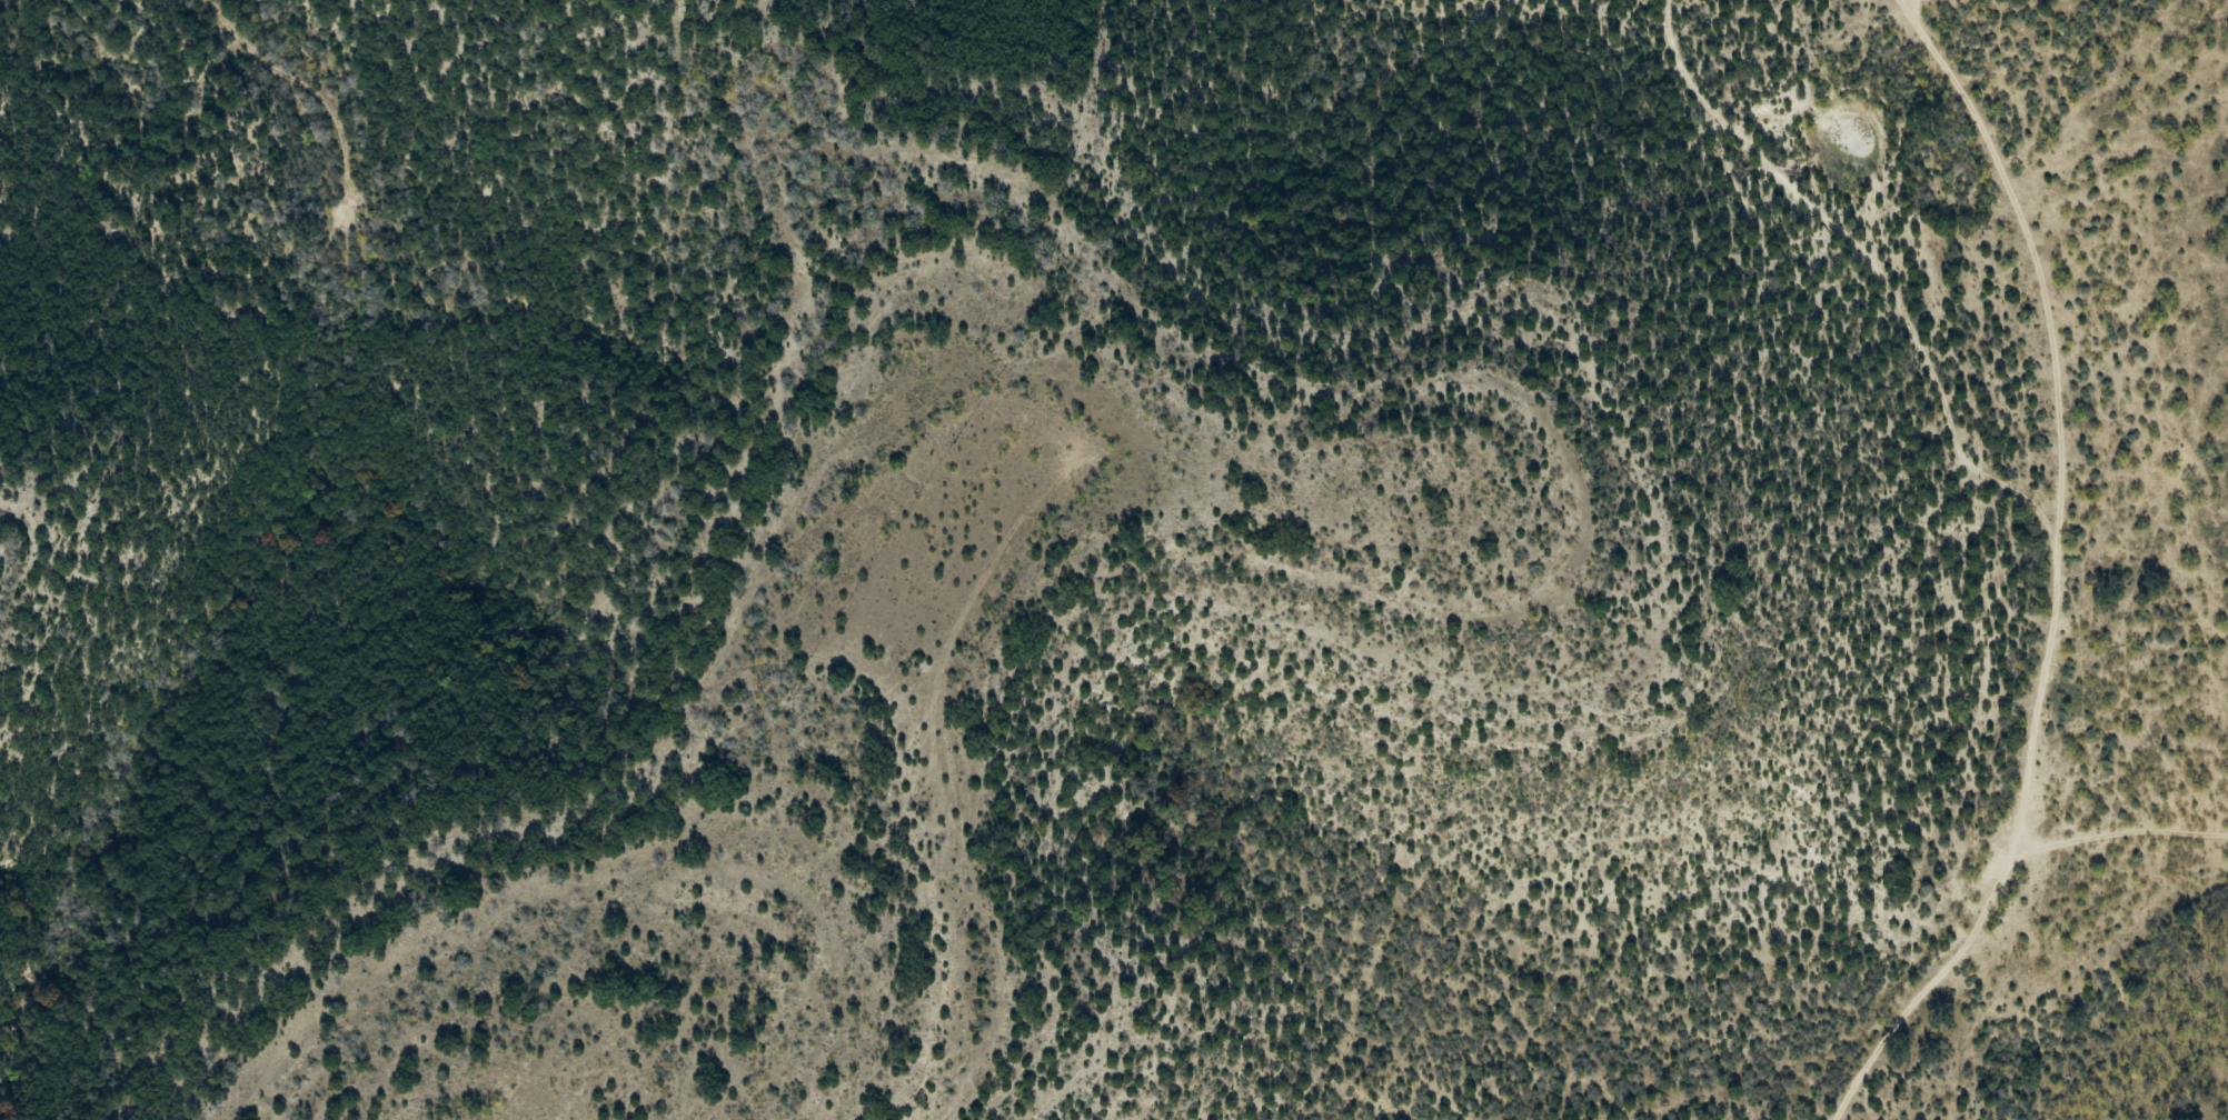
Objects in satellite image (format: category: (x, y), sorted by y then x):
road: (1998, 533)

